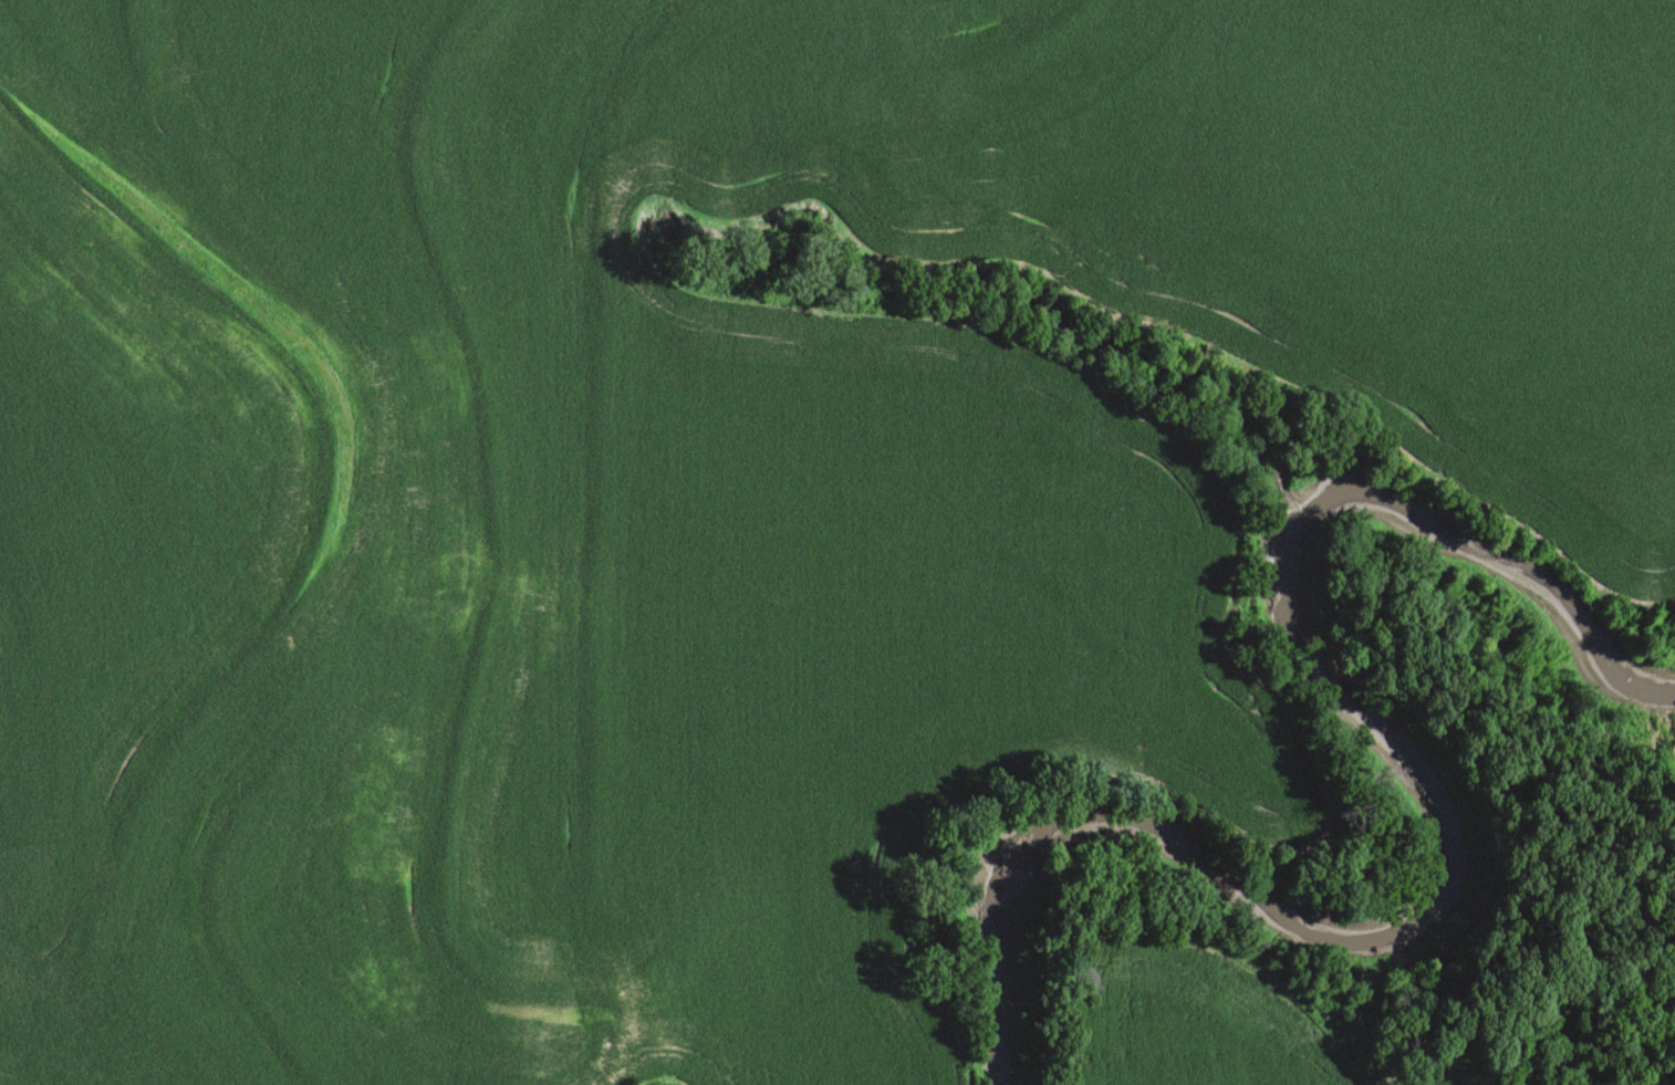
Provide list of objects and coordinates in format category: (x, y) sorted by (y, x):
river: (1414, 797)

